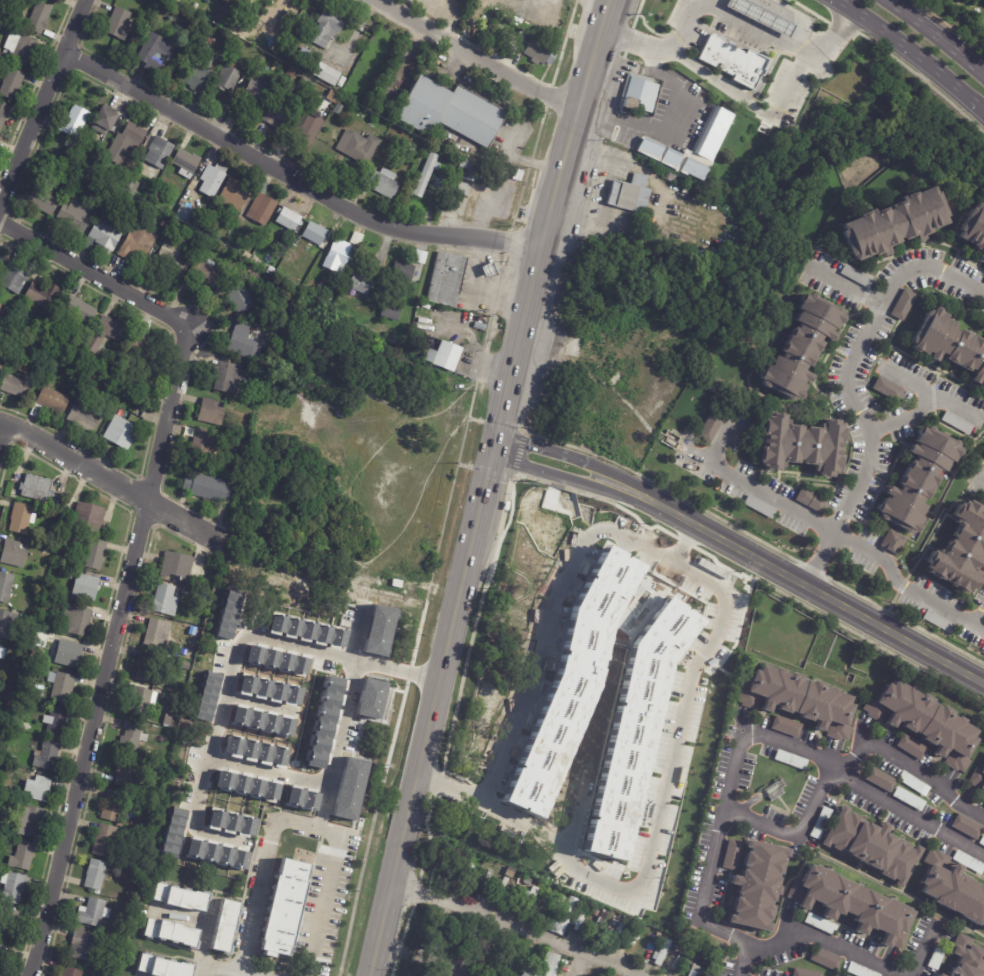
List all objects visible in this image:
building: (54, 0)
building: (57, 0)
building: (472, 0)
road: (711, 3)
building: (744, 9)
building: (230, 12)
road: (726, 15)
road: (604, 16)
road: (796, 17)
building: (41, 18)
building: (121, 24)
building: (329, 26)
road: (938, 35)
building: (211, 43)
road: (596, 44)
building: (24, 51)
road: (912, 52)
building: (156, 54)
building: (541, 54)
road: (473, 55)
building: (305, 57)
building: (651, 59)
building: (731, 61)
building: (202, 70)
building: (293, 74)
road: (765, 74)
building: (329, 75)
building: (229, 77)
building: (307, 82)
building: (13, 84)
building: (256, 92)
building: (640, 93)
road: (749, 104)
road: (43, 106)
building: (338, 109)
building: (450, 110)
road: (686, 112)
building: (4, 114)
building: (277, 117)
building: (105, 121)
building: (76, 122)
building: (310, 125)
building: (710, 140)
building: (129, 141)
building: (74, 145)
building: (358, 147)
building: (82, 150)
building: (407, 150)
building: (160, 155)
building: (379, 156)
building: (423, 157)
building: (188, 164)
building: (89, 165)
building: (137, 166)
building: (472, 171)
building: (134, 175)
building: (426, 175)
building: (668, 176)
road: (294, 178)
building: (214, 180)
building: (118, 181)
building: (384, 183)
building: (131, 186)
building: (478, 187)
building: (686, 187)
building: (105, 190)
building: (435, 190)
building: (468, 191)
building: (241, 193)
building: (628, 193)
building: (123, 198)
building: (157, 198)
building: (43, 202)
building: (264, 205)
building: (75, 216)
building: (189, 217)
building: (290, 219)
building: (892, 223)
building: (973, 228)
building: (317, 234)
building: (104, 237)
building: (138, 243)
building: (237, 247)
road: (539, 255)
building: (174, 256)
building: (339, 257)
building: (421, 257)
building: (273, 270)
building: (405, 272)
building: (207, 273)
building: (854, 275)
building: (15, 279)
building: (303, 280)
building: (447, 280)
building: (363, 284)
road: (847, 285)
building: (43, 296)
building: (241, 299)
building: (902, 303)
building: (1, 309)
building: (80, 310)
building: (6, 311)
building: (391, 313)
building: (1, 329)
building: (109, 334)
building: (18, 336)
building: (1, 341)
building: (246, 344)
building: (949, 344)
building: (799, 347)
building: (147, 349)
building: (446, 356)
road: (853, 360)
building: (25, 369)
building: (229, 379)
building: (18, 386)
building: (92, 387)
building: (885, 388)
building: (51, 403)
road: (923, 404)
road: (952, 404)
building: (213, 413)
building: (87, 417)
building: (955, 422)
building: (709, 426)
road: (2, 429)
building: (121, 433)
traffic signals: (496, 436)
building: (204, 445)
building: (800, 445)
road: (546, 450)
traffic signals: (491, 456)
building: (219, 464)
road: (568, 477)
road: (112, 479)
building: (917, 479)
road: (622, 480)
road: (737, 482)
road: (981, 484)
railway: (494, 486)
building: (208, 488)
building: (38, 490)
building: (809, 500)
building: (758, 506)
road: (478, 512)
building: (91, 517)
building: (23, 518)
building: (112, 518)
building: (891, 541)
road: (136, 547)
building: (959, 551)
building: (16, 553)
building: (97, 554)
road: (885, 564)
building: (180, 566)
building: (66, 572)
building: (214, 576)
building: (6, 586)
building: (86, 586)
road: (815, 589)
building: (167, 600)
building: (228, 615)
building: (77, 620)
road: (548, 621)
building: (937, 621)
road: (981, 622)
building: (8, 624)
building: (378, 630)
building: (194, 632)
building: (159, 633)
road: (242, 641)
building: (0, 649)
building: (189, 651)
building: (67, 653)
building: (19, 666)
building: (151, 667)
building: (575, 672)
building: (61, 687)
building: (270, 687)
building: (207, 697)
building: (371, 697)
building: (10, 700)
building: (796, 700)
building: (143, 702)
building: (44, 707)
building: (263, 720)
building: (325, 721)
building: (58, 722)
building: (923, 722)
building: (783, 726)
building: (632, 729)
road: (742, 733)
building: (17, 738)
building: (133, 738)
building: (910, 747)
building: (256, 749)
building: (48, 755)
building: (789, 759)
road: (846, 771)
building: (127, 772)
road: (419, 772)
road: (331, 774)
building: (978, 778)
building: (878, 779)
building: (912, 783)
building: (247, 785)
building: (350, 787)
building: (38, 788)
building: (774, 790)
building: (179, 794)
building: (302, 797)
building: (907, 799)
building: (114, 806)
road: (325, 807)
road: (660, 812)
building: (29, 820)
building: (230, 822)
road: (296, 822)
building: (819, 823)
building: (965, 827)
building: (173, 834)
building: (981, 840)
building: (106, 841)
building: (869, 846)
building: (24, 856)
building: (970, 863)
building: (471, 872)
building: (507, 873)
building: (97, 875)
building: (486, 877)
building: (524, 881)
building: (751, 882)
building: (502, 885)
building: (14, 887)
building: (951, 891)
building: (528, 898)
building: (181, 899)
building: (849, 907)
building: (284, 909)
building: (95, 913)
building: (565, 917)
building: (9, 922)
building: (596, 923)
road: (515, 924)
building: (225, 926)
building: (613, 927)
building: (618, 931)
building: (173, 932)
building: (608, 935)
building: (627, 935)
building: (656, 935)
road: (206, 936)
road: (824, 940)
building: (0, 943)
building: (83, 944)
building: (451, 948)
building: (684, 948)
building: (1, 949)
building: (462, 952)
building: (660, 952)
road: (923, 954)
building: (934, 958)
building: (966, 958)
building: (823, 959)
road: (578, 964)
building: (550, 965)
building: (165, 967)
road: (198, 969)
building: (692, 971)
building: (858, 971)
building: (74, 972)
building: (516, 972)
building: (801, 973)
building: (934, 975)
building: (938, 975)

